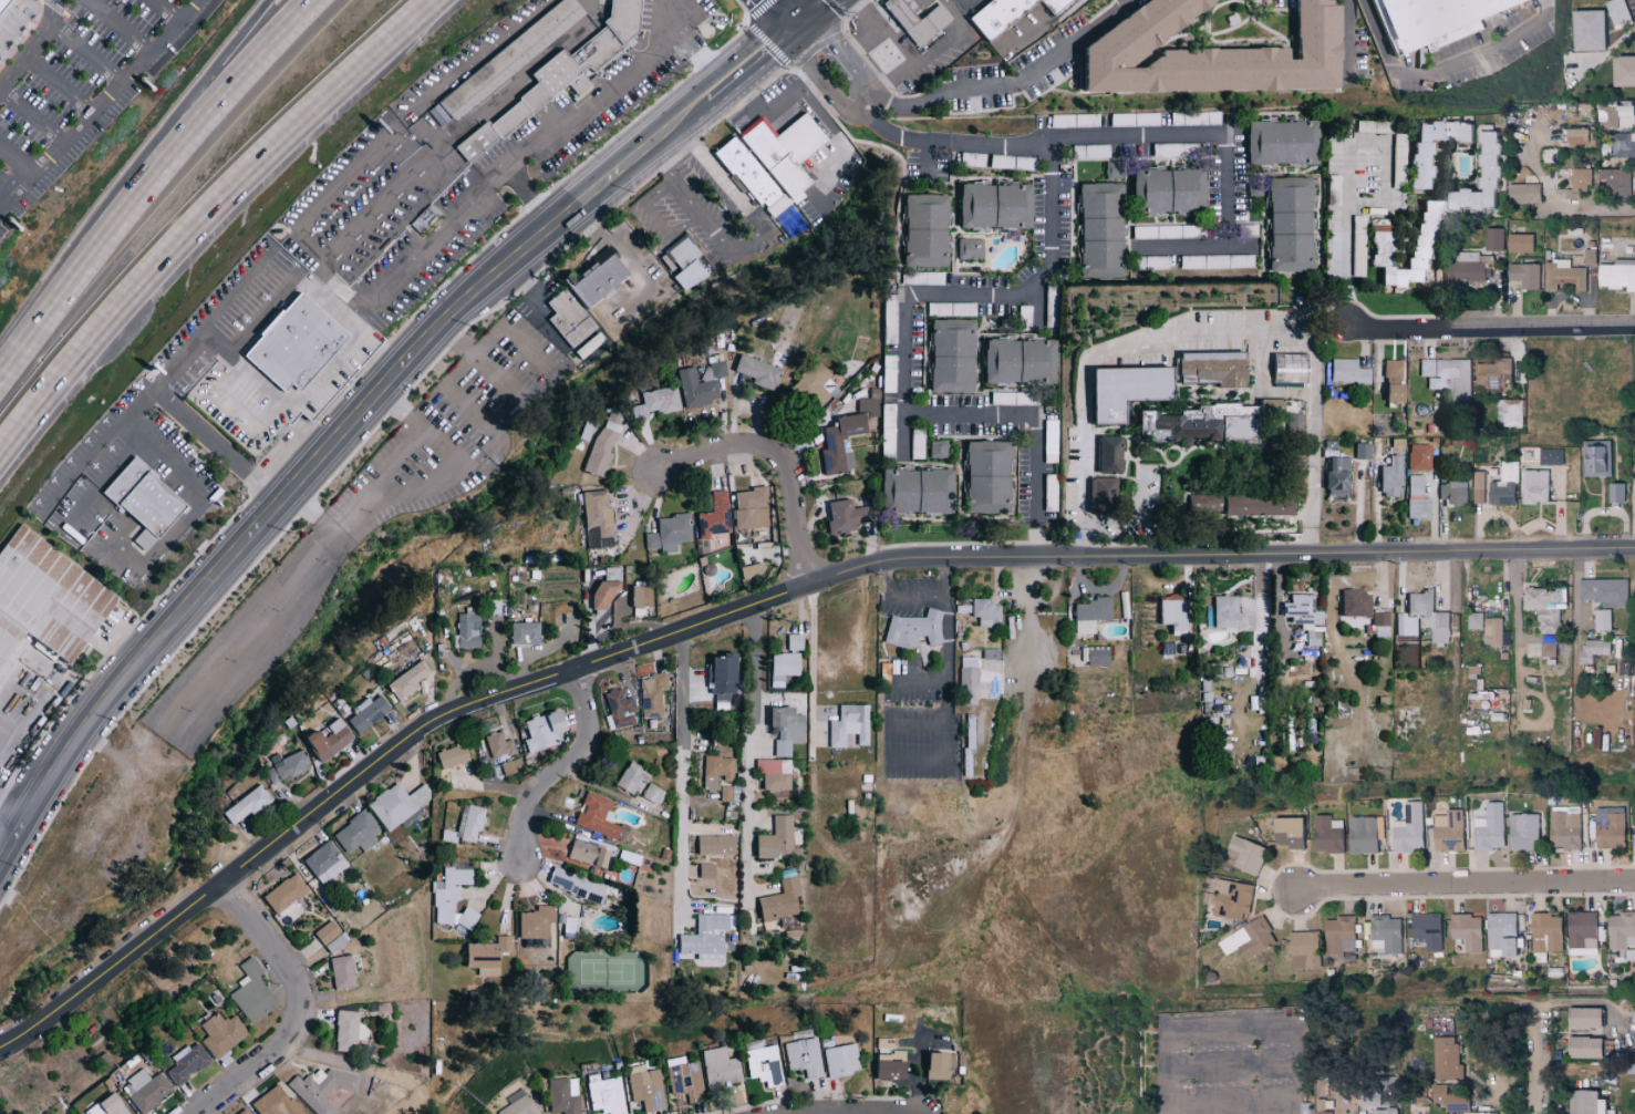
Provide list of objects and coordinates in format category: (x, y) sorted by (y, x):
building: (1, 1)
road: (967, 4)
building: (1053, 4)
road: (165, 11)
building: (1616, 12)
road: (780, 14)
road: (793, 14)
road: (814, 14)
building: (991, 14)
building: (560, 18)
building: (913, 20)
building: (1429, 21)
road: (118, 28)
traffic signals: (797, 30)
building: (1586, 30)
road: (687, 42)
road: (1346, 42)
building: (1634, 42)
road: (32, 44)
road: (847, 48)
road: (85, 52)
road: (475, 53)
building: (1199, 53)
road: (749, 68)
road: (912, 69)
building: (1622, 71)
road: (1443, 72)
building: (563, 75)
road: (56, 84)
building: (480, 84)
road: (1004, 85)
road: (194, 99)
road: (224, 102)
road: (100, 103)
road: (30, 115)
road: (780, 115)
building: (1614, 116)
building: (1193, 117)
building: (1132, 118)
building: (1091, 120)
road: (899, 134)
road: (1134, 134)
road: (668, 135)
building: (1575, 135)
building: (1398, 137)
building: (1622, 146)
road: (846, 148)
road: (1349, 158)
building: (1416, 158)
building: (766, 159)
road: (927, 159)
road: (12, 163)
road: (1225, 176)
building: (1477, 179)
building: (1579, 182)
building: (1614, 184)
building: (1522, 194)
road: (328, 195)
road: (530, 196)
road: (1592, 204)
road: (207, 218)
road: (656, 220)
road: (434, 235)
building: (1492, 239)
road: (754, 240)
building: (1518, 243)
building: (1419, 254)
building: (1589, 258)
building: (687, 264)
road: (635, 270)
building: (1523, 275)
building: (1616, 275)
building: (1562, 276)
building: (606, 278)
road: (63, 289)
road: (529, 290)
building: (1053, 298)
road: (270, 300)
building: (576, 323)
road: (500, 326)
road: (1489, 329)
road: (1204, 331)
road: (904, 334)
building: (300, 344)
building: (1210, 368)
building: (714, 370)
building: (758, 371)
building: (1346, 371)
building: (1494, 374)
road: (453, 377)
building: (1449, 378)
building: (1390, 381)
building: (1634, 383)
building: (810, 384)
building: (878, 388)
building: (699, 389)
building: (1119, 389)
road: (271, 392)
building: (656, 402)
building: (1264, 405)
building: (1511, 412)
road: (245, 421)
road: (120, 422)
building: (1199, 423)
building: (1289, 423)
road: (218, 442)
building: (839, 444)
building: (602, 451)
building: (1359, 451)
road: (120, 454)
building: (1105, 454)
building: (1292, 456)
building: (1417, 456)
building: (1550, 456)
building: (1595, 458)
road: (776, 460)
road: (304, 472)
building: (1333, 475)
building: (1388, 476)
building: (1287, 482)
building: (1414, 484)
building: (1502, 486)
building: (1533, 486)
building: (1478, 487)
building: (1098, 492)
building: (1452, 492)
road: (408, 493)
building: (1614, 494)
building: (147, 502)
building: (1232, 504)
building: (1417, 507)
building: (751, 508)
building: (714, 516)
building: (841, 516)
building: (599, 518)
road: (1138, 520)
building: (670, 533)
road: (1035, 538)
road: (148, 556)
road: (946, 575)
building: (1603, 591)
building: (606, 594)
road: (900, 595)
building: (643, 596)
building: (50, 599)
building: (1352, 602)
road: (757, 604)
building: (1544, 607)
road: (271, 609)
building: (984, 612)
building: (1169, 612)
building: (1223, 612)
road: (1027, 613)
building: (1086, 613)
road: (1276, 613)
building: (1420, 613)
building: (1602, 620)
building: (1474, 621)
building: (1379, 623)
building: (944, 627)
building: (911, 629)
road: (1517, 629)
building: (468, 631)
building: (526, 632)
building: (1492, 632)
road: (1576, 632)
building: (795, 642)
building: (1594, 650)
building: (1545, 651)
building: (1096, 656)
building: (786, 663)
road: (811, 670)
building: (724, 675)
building: (966, 677)
road: (918, 679)
building: (408, 680)
building: (654, 695)
building: (621, 708)
road: (945, 709)
building: (370, 712)
road: (914, 724)
building: (850, 725)
building: (546, 730)
building: (789, 730)
building: (331, 740)
road: (737, 740)
building: (499, 744)
building: (454, 755)
building: (291, 764)
building: (511, 766)
road: (561, 772)
building: (718, 772)
building: (776, 774)
building: (271, 775)
road: (683, 776)
building: (634, 777)
building: (726, 793)
building: (654, 794)
building: (248, 805)
building: (397, 805)
road: (10, 812)
building: (601, 817)
building: (1634, 822)
building: (467, 825)
building: (1610, 827)
building: (1489, 828)
building: (1409, 829)
building: (359, 832)
building: (1286, 832)
building: (1448, 832)
building: (1522, 832)
building: (1327, 834)
building: (1365, 834)
road: (10, 835)
building: (778, 838)
building: (717, 845)
building: (589, 854)
building: (1245, 855)
building: (325, 862)
building: (708, 870)
building: (578, 885)
road: (1466, 888)
building: (287, 893)
building: (449, 893)
building: (1227, 898)
building: (782, 901)
building: (468, 918)
building: (537, 922)
building: (1425, 930)
building: (1466, 930)
building: (1386, 931)
building: (1621, 931)
building: (328, 932)
building: (1582, 932)
building: (1501, 934)
building: (1545, 934)
building: (1341, 935)
building: (707, 937)
building: (1248, 938)
building: (338, 942)
building: (1302, 950)
building: (490, 952)
building: (344, 972)
building: (252, 992)
road: (294, 1011)
building: (1582, 1018)
road: (1298, 1024)
building: (350, 1031)
building: (224, 1034)
building: (1583, 1046)
road: (318, 1055)
road: (1539, 1055)
building: (804, 1056)
building: (1446, 1059)
building: (839, 1060)
building: (189, 1062)
building: (934, 1063)
building: (764, 1065)
building: (883, 1066)
building: (720, 1067)
building: (685, 1081)
building: (323, 1087)
building: (645, 1087)
building: (147, 1090)
road: (1167, 1092)
building: (606, 1094)
building: (563, 1095)
building: (1449, 1098)
building: (1584, 1102)
building: (278, 1103)
building: (519, 1104)
building: (111, 1106)
road: (1251, 1106)
building: (1323, 1107)
road: (1295, 1108)
building: (245, 1111)
building: (1384, 1111)
building: (1305, 1112)
road: (869, 1113)

